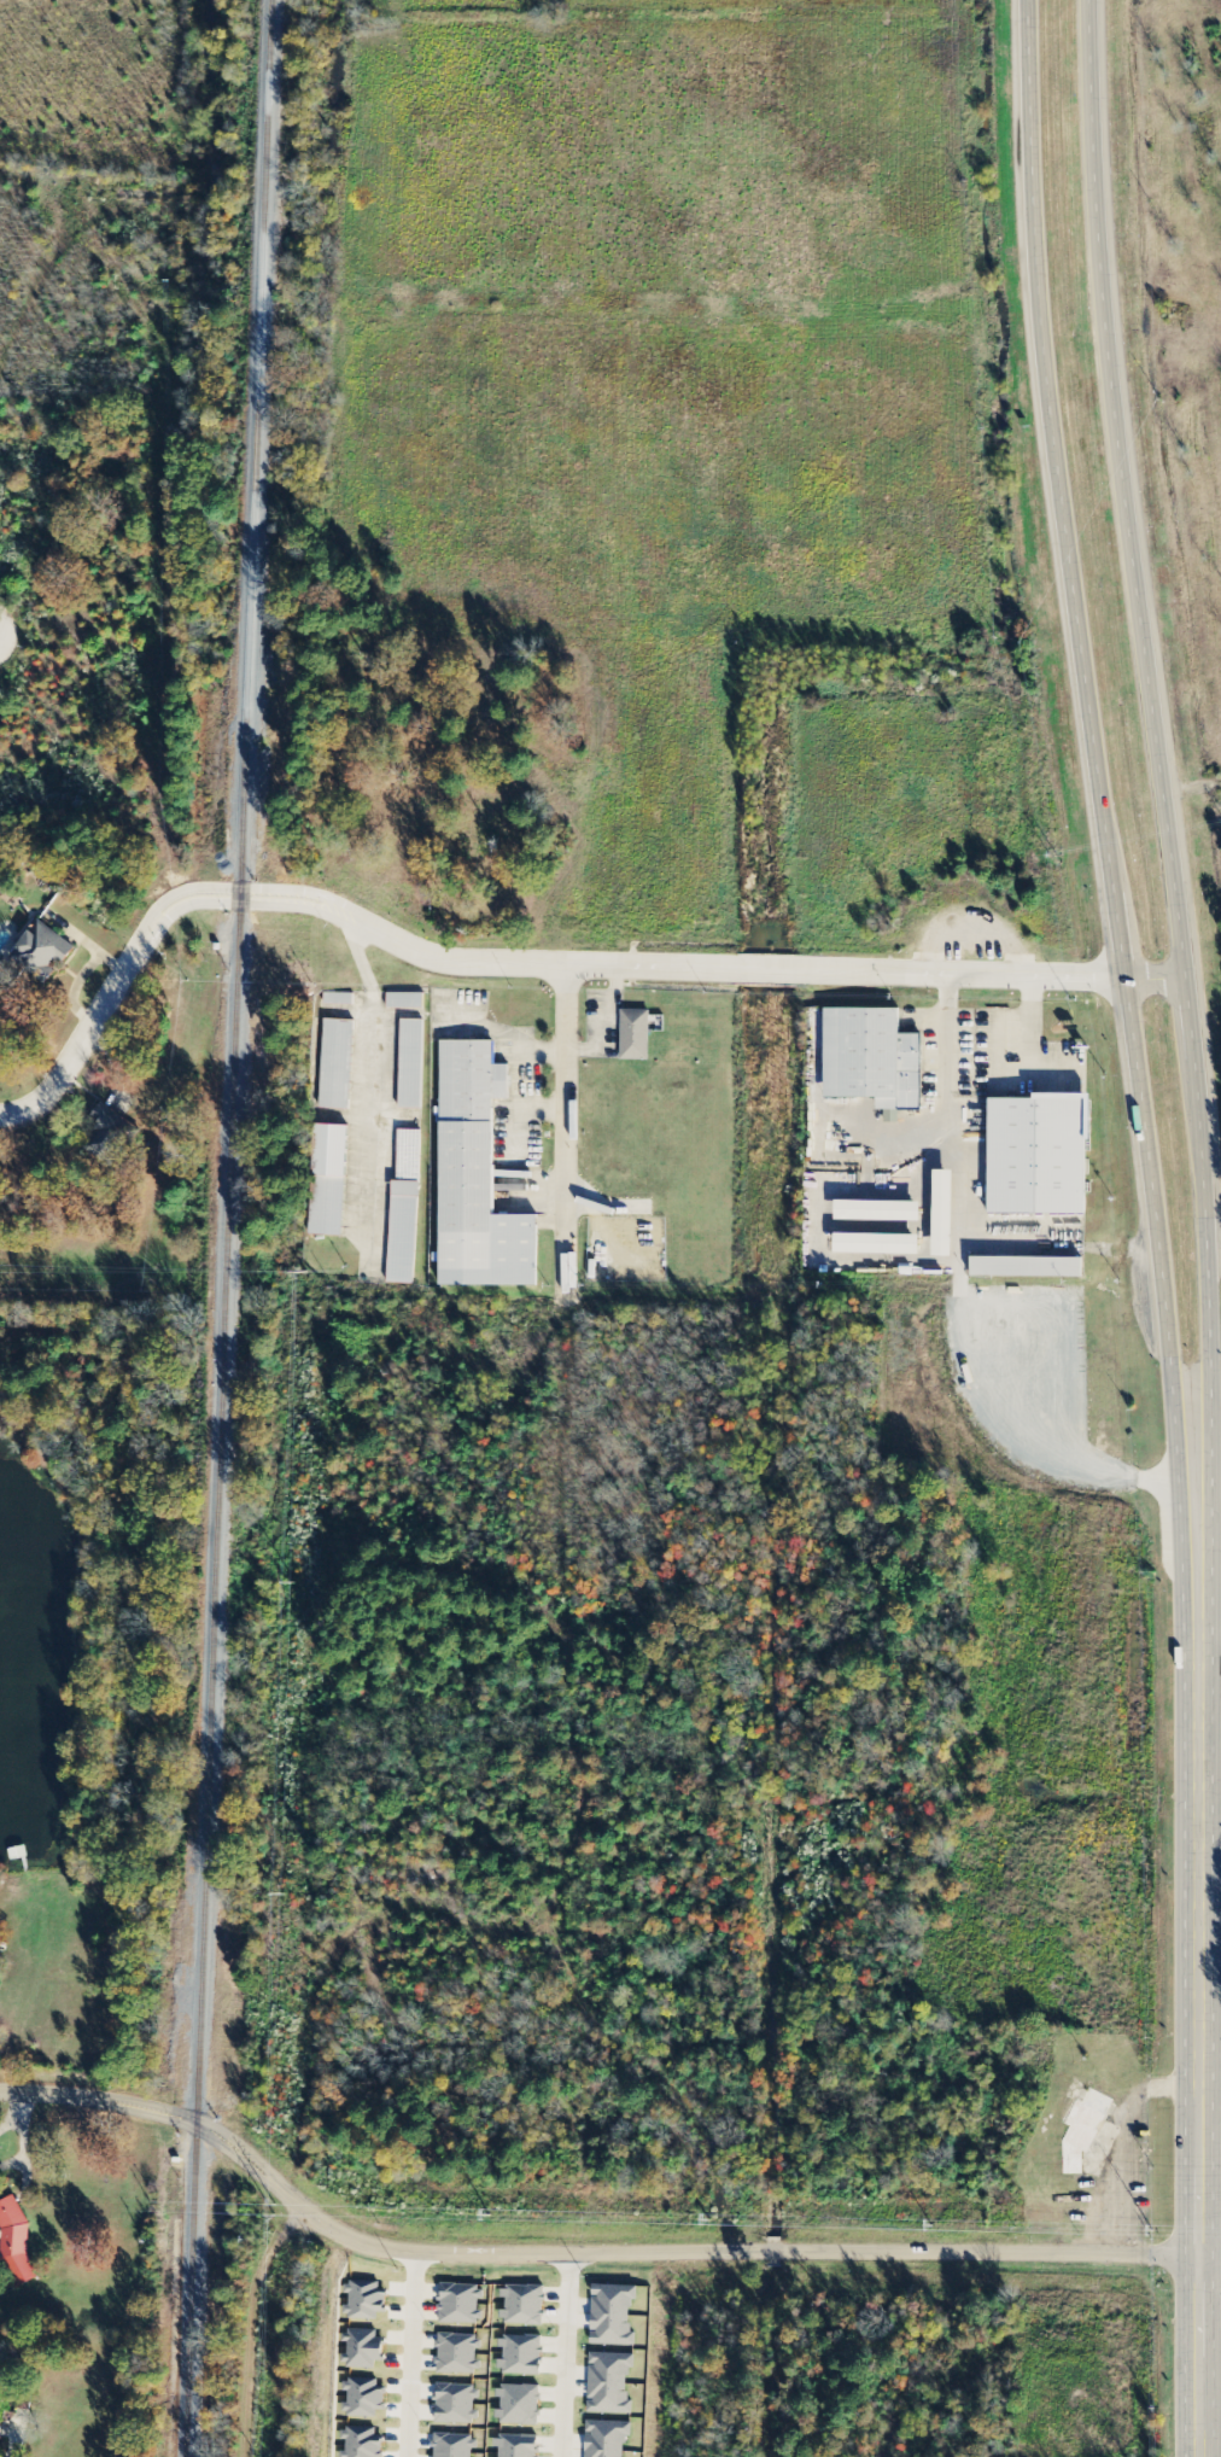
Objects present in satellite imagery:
road: (1165, 813)
road: (1102, 816)
road: (240, 888)
road: (244, 904)
building: (42, 952)
road: (760, 969)
building: (405, 1002)
building: (636, 1034)
road: (86, 1038)
building: (872, 1060)
building: (337, 1064)
building: (411, 1064)
road: (566, 1132)
building: (107, 1133)
building: (1039, 1154)
building: (477, 1177)
building: (328, 1180)
building: (878, 1210)
building: (943, 1213)
railway: (230, 1228)
building: (403, 1232)
building: (878, 1244)
building: (1027, 1267)
road: (1200, 1679)
road: (1198, 1991)
road: (63, 2097)
road: (212, 2126)
road: (208, 2135)
power tower: (275, 2210)
power tower: (490, 2214)
power tower: (711, 2218)
road: (728, 2252)
road: (1209, 2257)
building: (524, 2305)
building: (613, 2316)
road: (413, 2354)
building: (521, 2354)
road: (567, 2356)
road: (1197, 2357)
road: (1209, 2381)
building: (610, 2383)
building: (520, 2405)
road: (1209, 2426)
building: (0, 2428)
building: (607, 2438)
building: (519, 2446)

